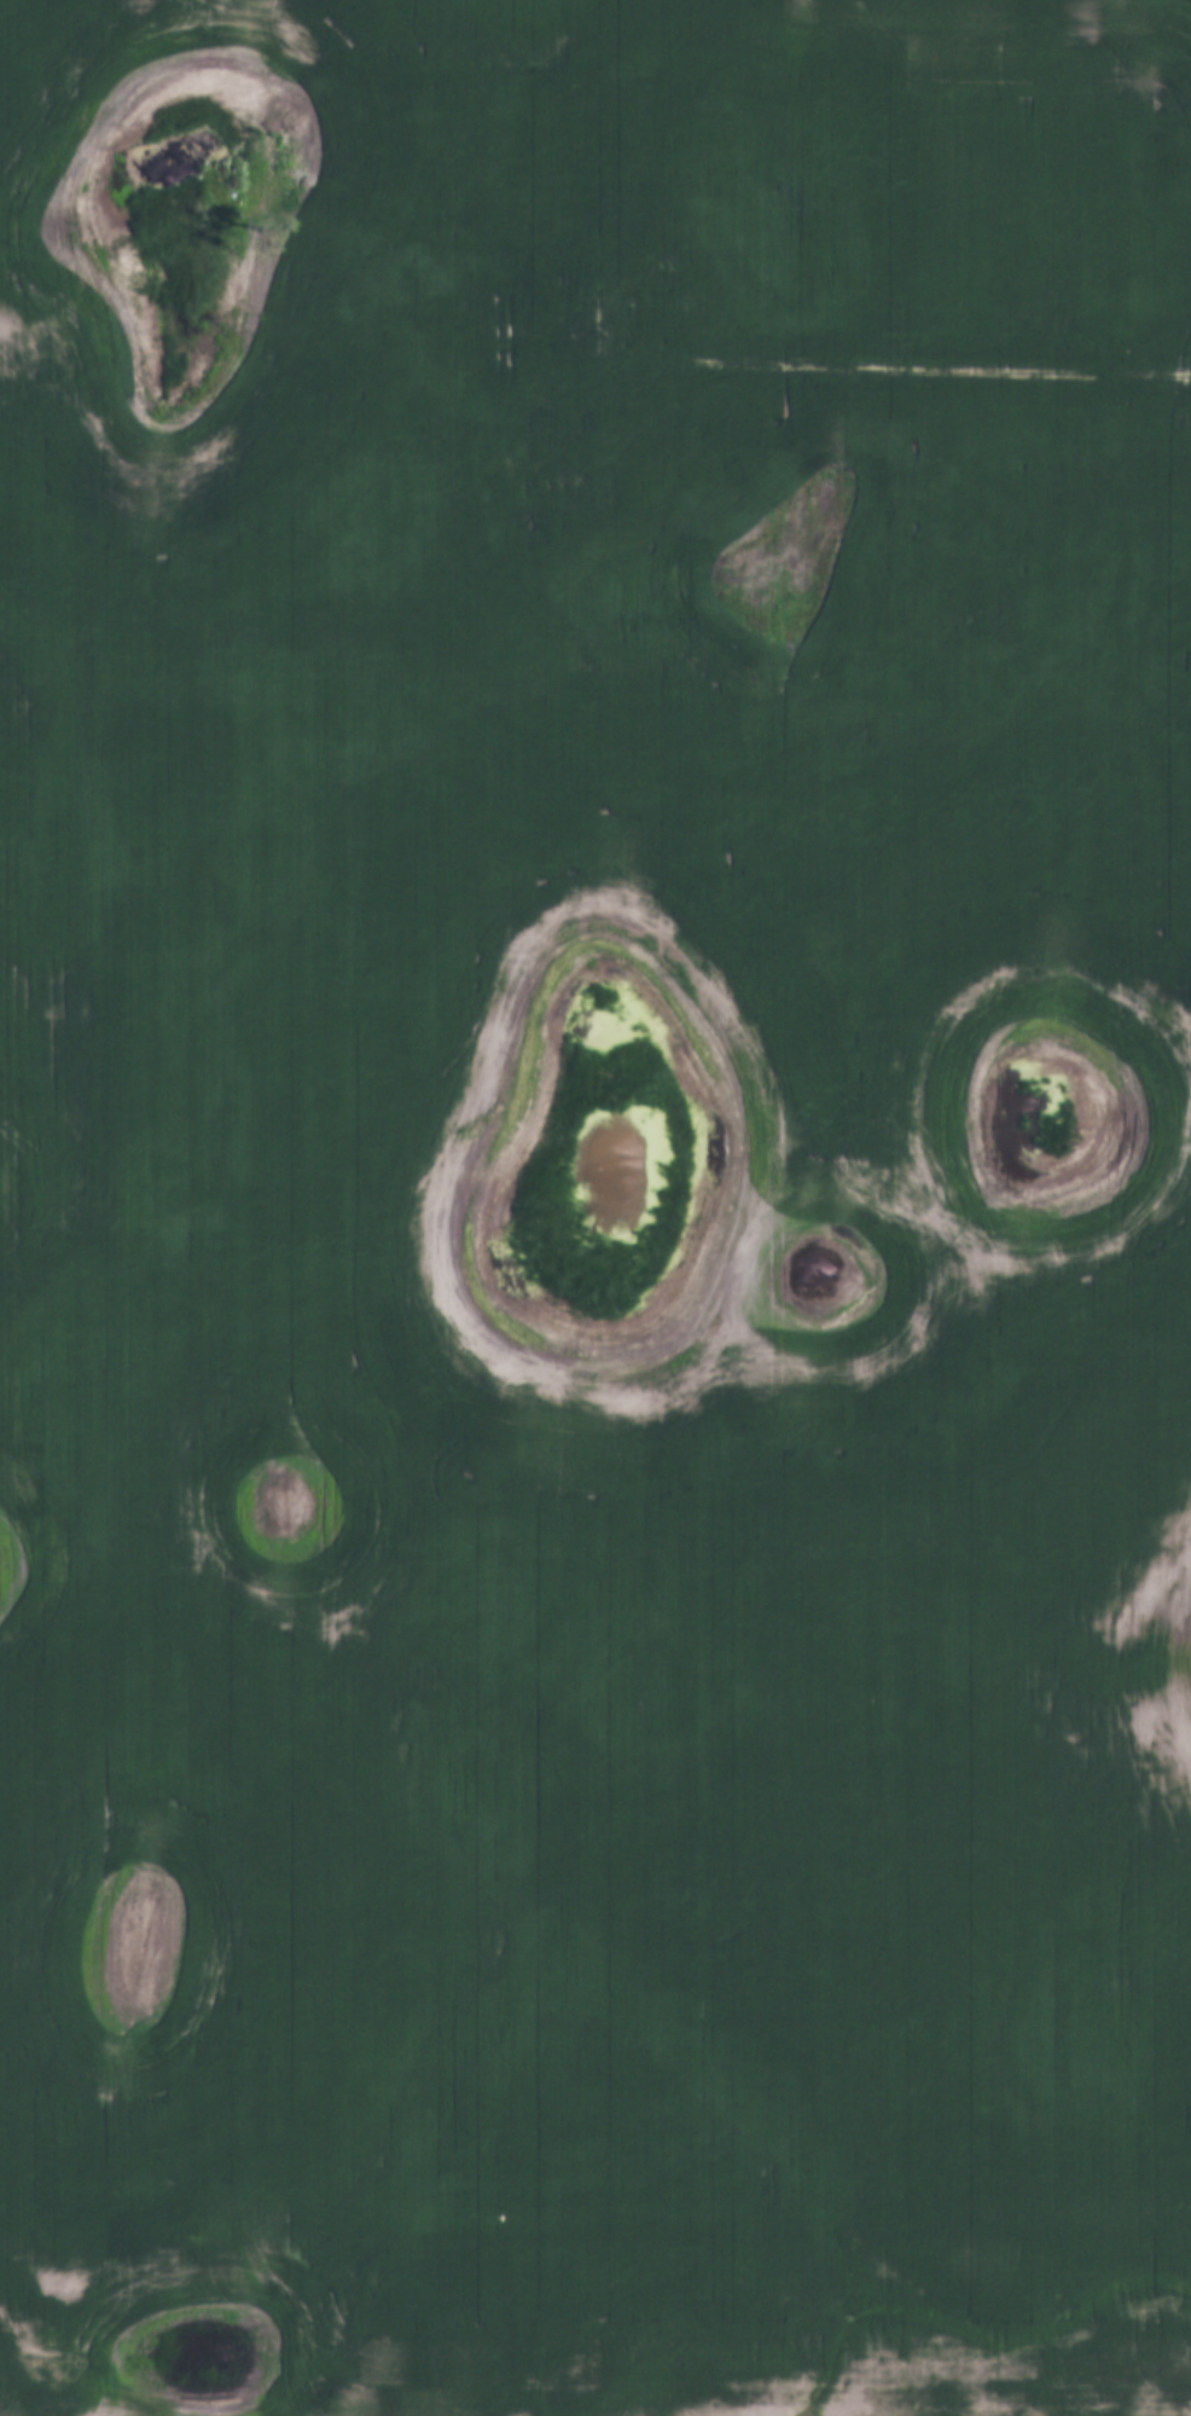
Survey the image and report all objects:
building: (616, 303)
building: (666, 305)
building: (597, 337)
road: (910, 360)
building: (492, 462)

